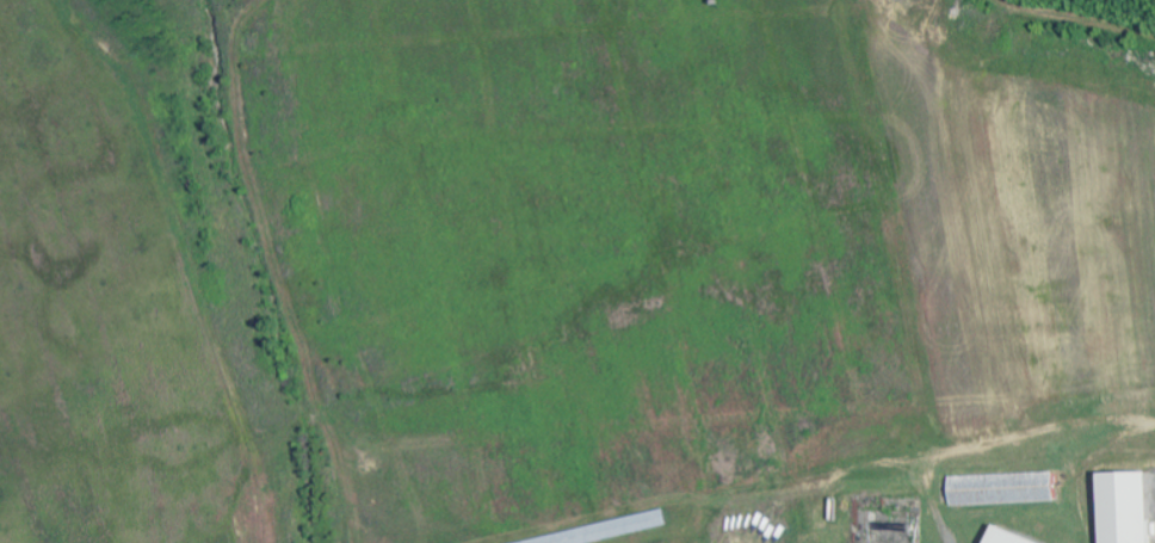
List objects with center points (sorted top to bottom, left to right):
building: (1003, 489)
building: (1125, 508)
building: (1005, 537)

